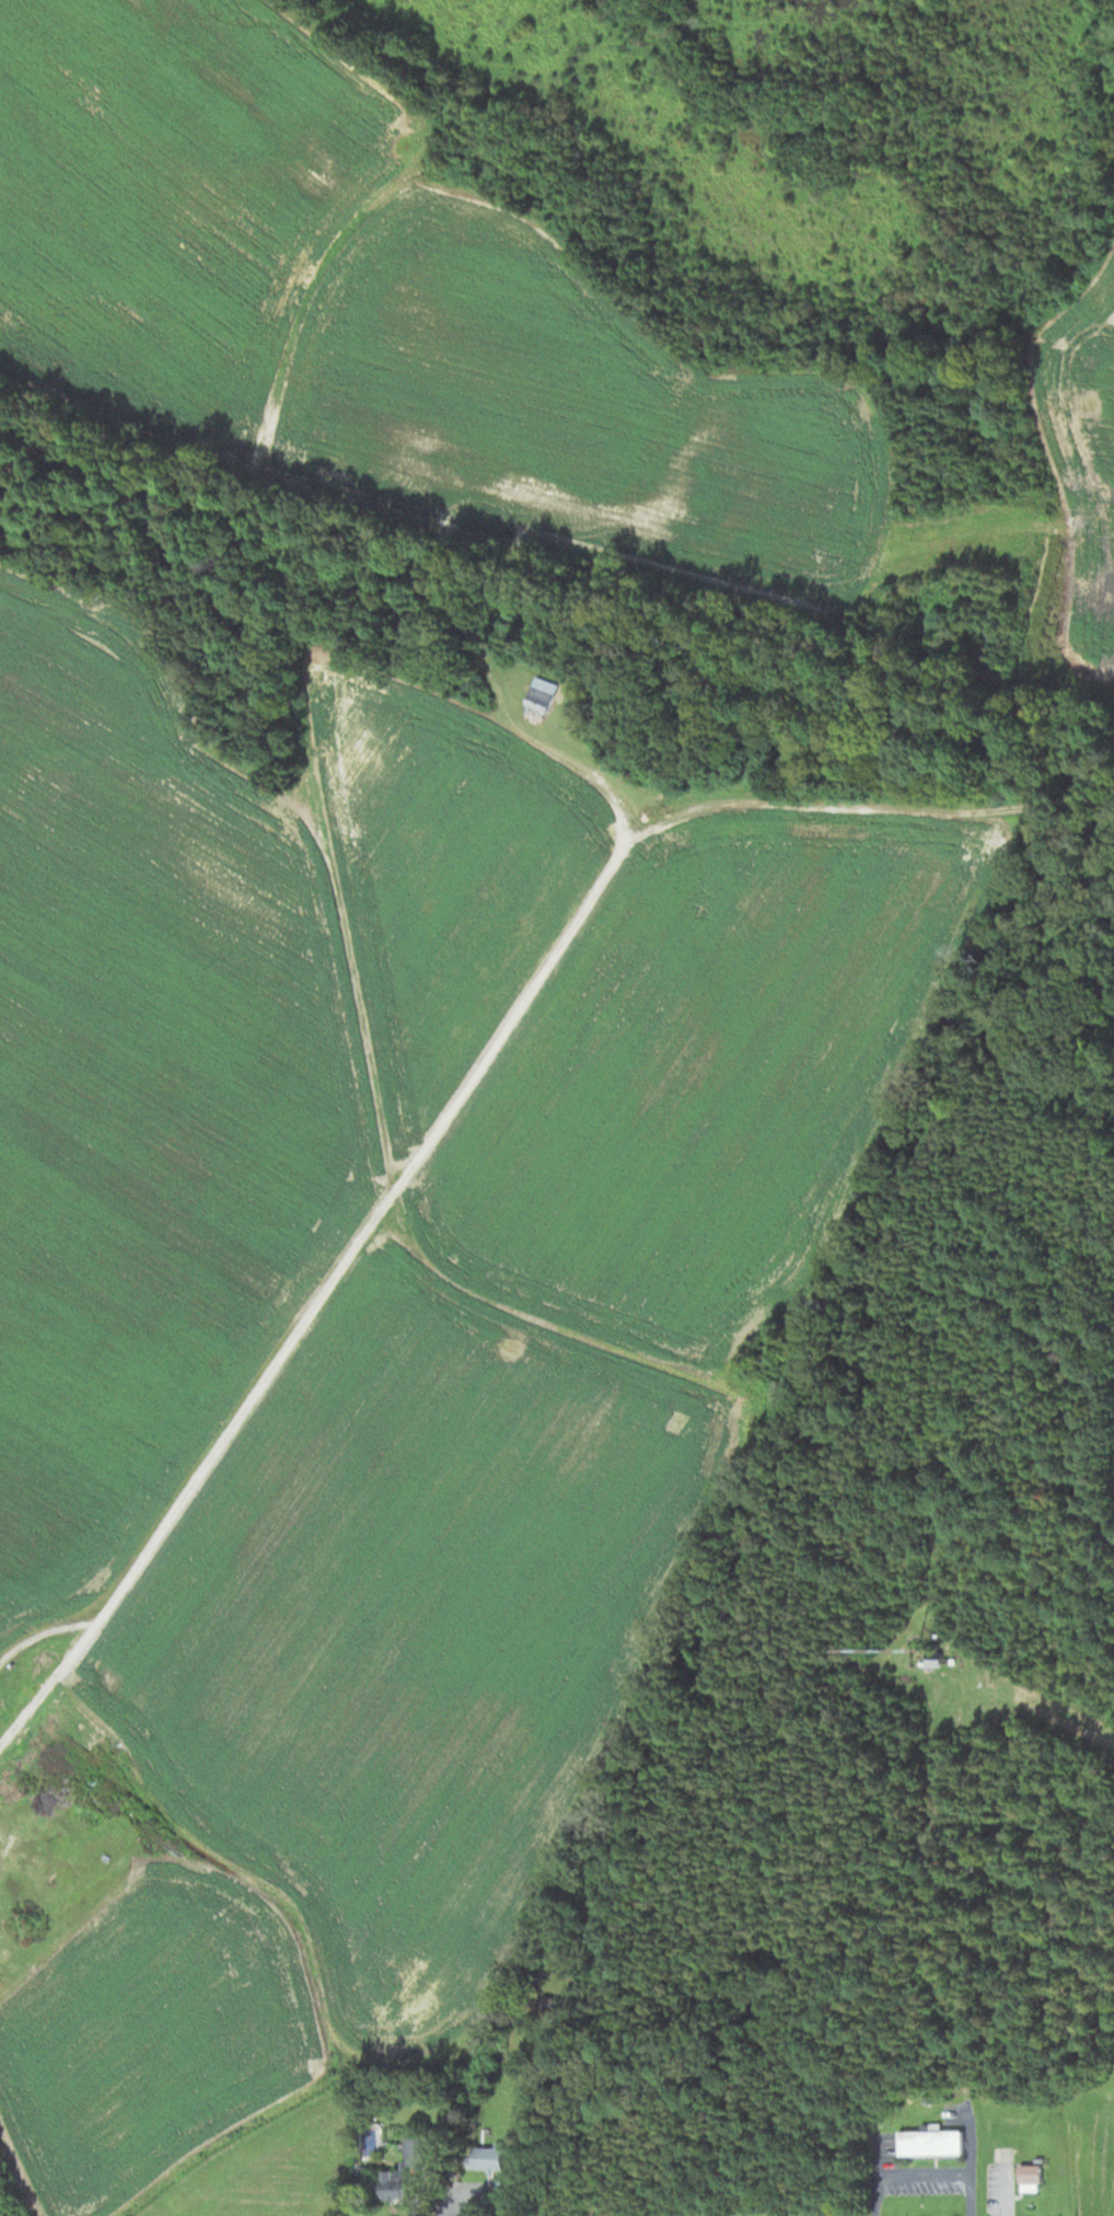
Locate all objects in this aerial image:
building: (536, 699)
road: (461, 1083)
building: (930, 1658)
building: (98, 1791)
building: (549, 2004)
building: (928, 2142)
building: (402, 2169)
building: (1028, 2177)

